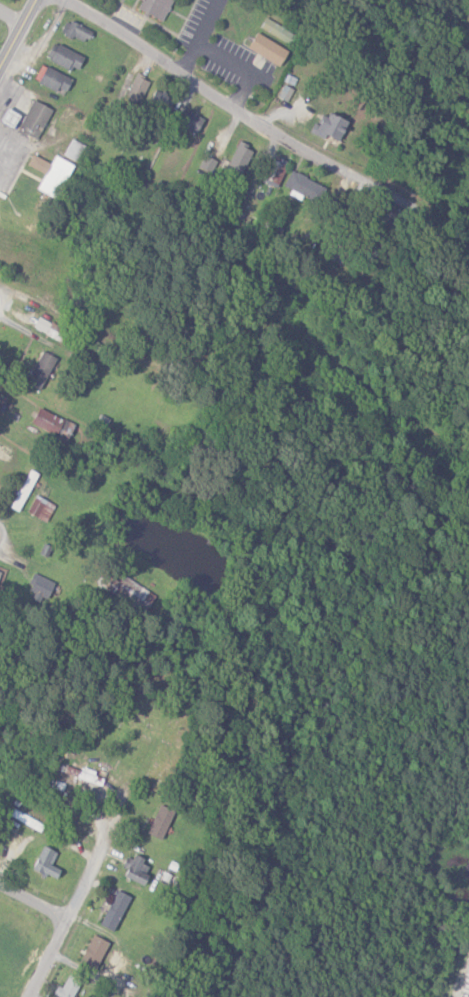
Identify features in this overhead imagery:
building: (154, 7)
road: (207, 21)
building: (276, 29)
road: (17, 31)
building: (76, 31)
building: (267, 48)
building: (64, 56)
road: (227, 58)
building: (52, 78)
building: (137, 88)
building: (160, 99)
road: (231, 106)
building: (8, 116)
building: (34, 119)
building: (190, 120)
building: (329, 126)
building: (239, 159)
building: (208, 163)
building: (275, 170)
building: (51, 173)
building: (304, 187)
building: (274, 232)
building: (41, 370)
building: (52, 424)
building: (24, 490)
building: (40, 508)
building: (0, 572)
building: (41, 587)
building: (128, 591)
building: (160, 822)
building: (45, 863)
building: (136, 869)
road: (33, 898)
building: (114, 910)
road: (68, 911)
building: (93, 953)
building: (67, 988)

